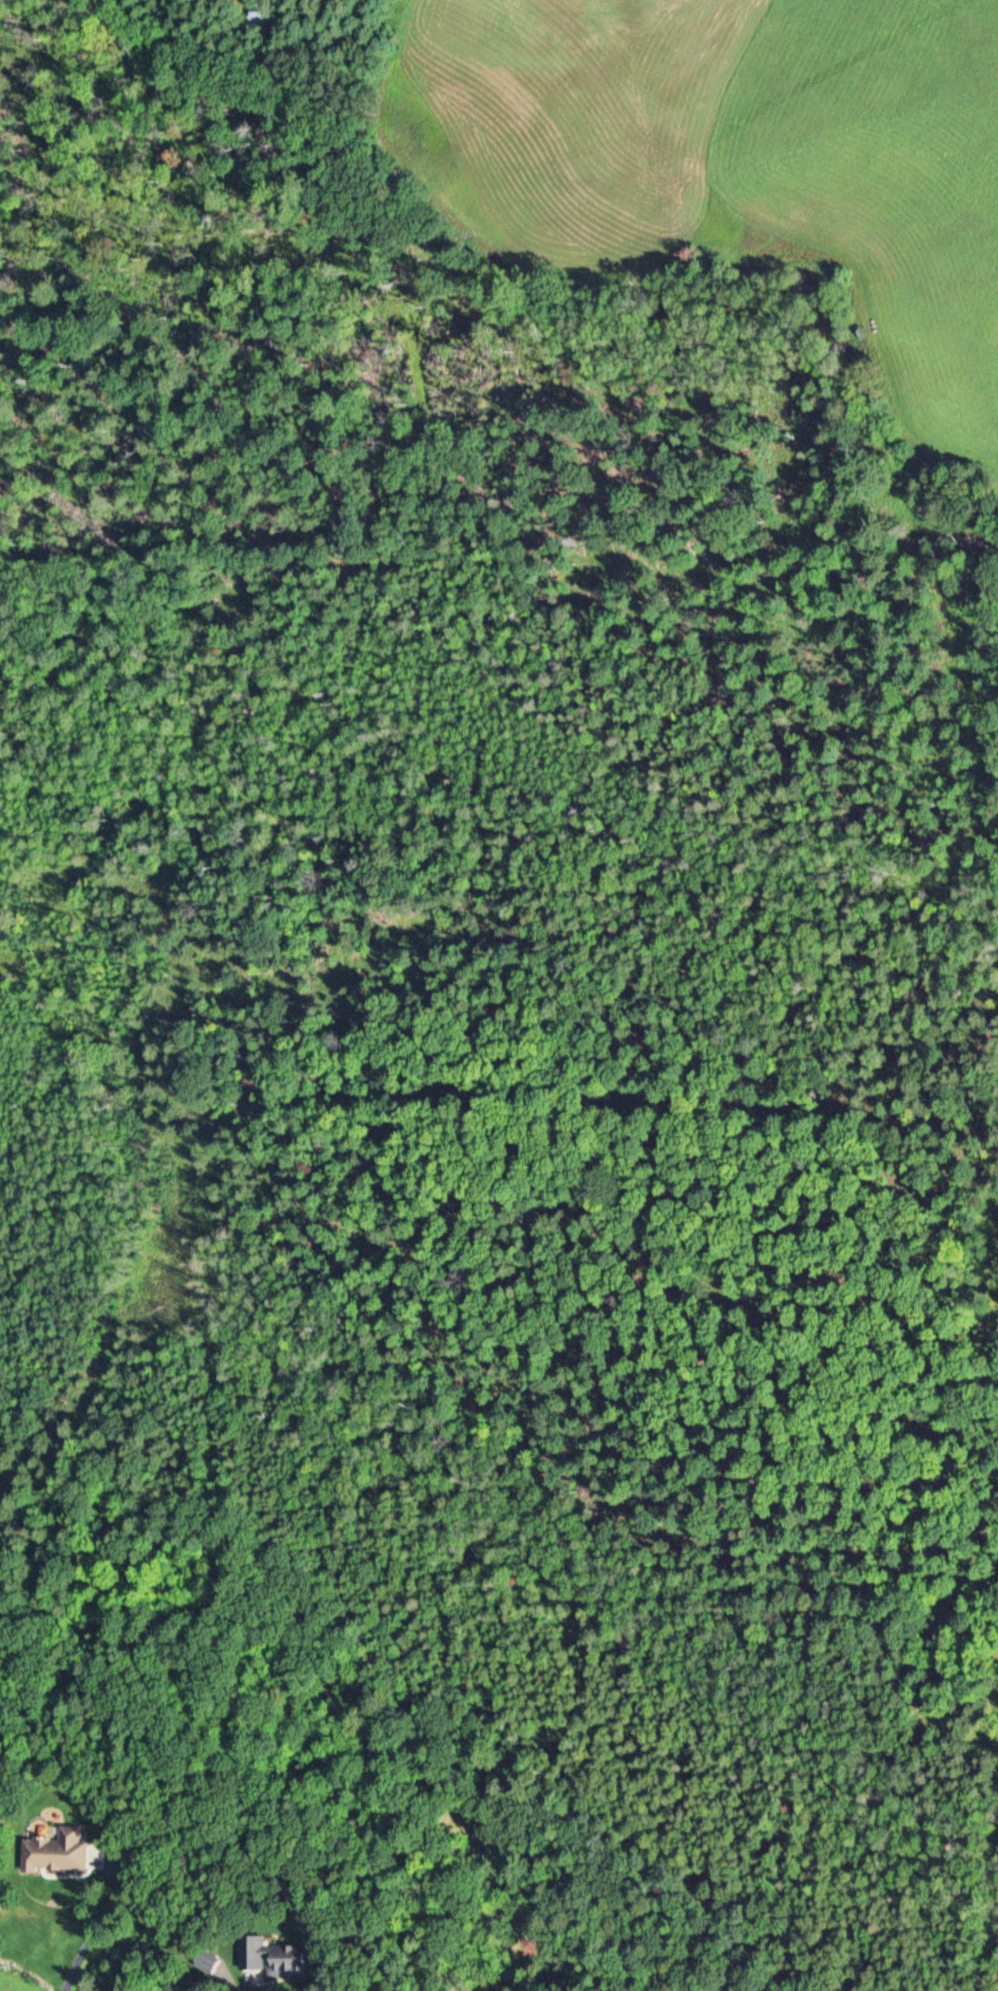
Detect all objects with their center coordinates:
building: (259, 15)
building: (53, 1851)
building: (272, 1959)

